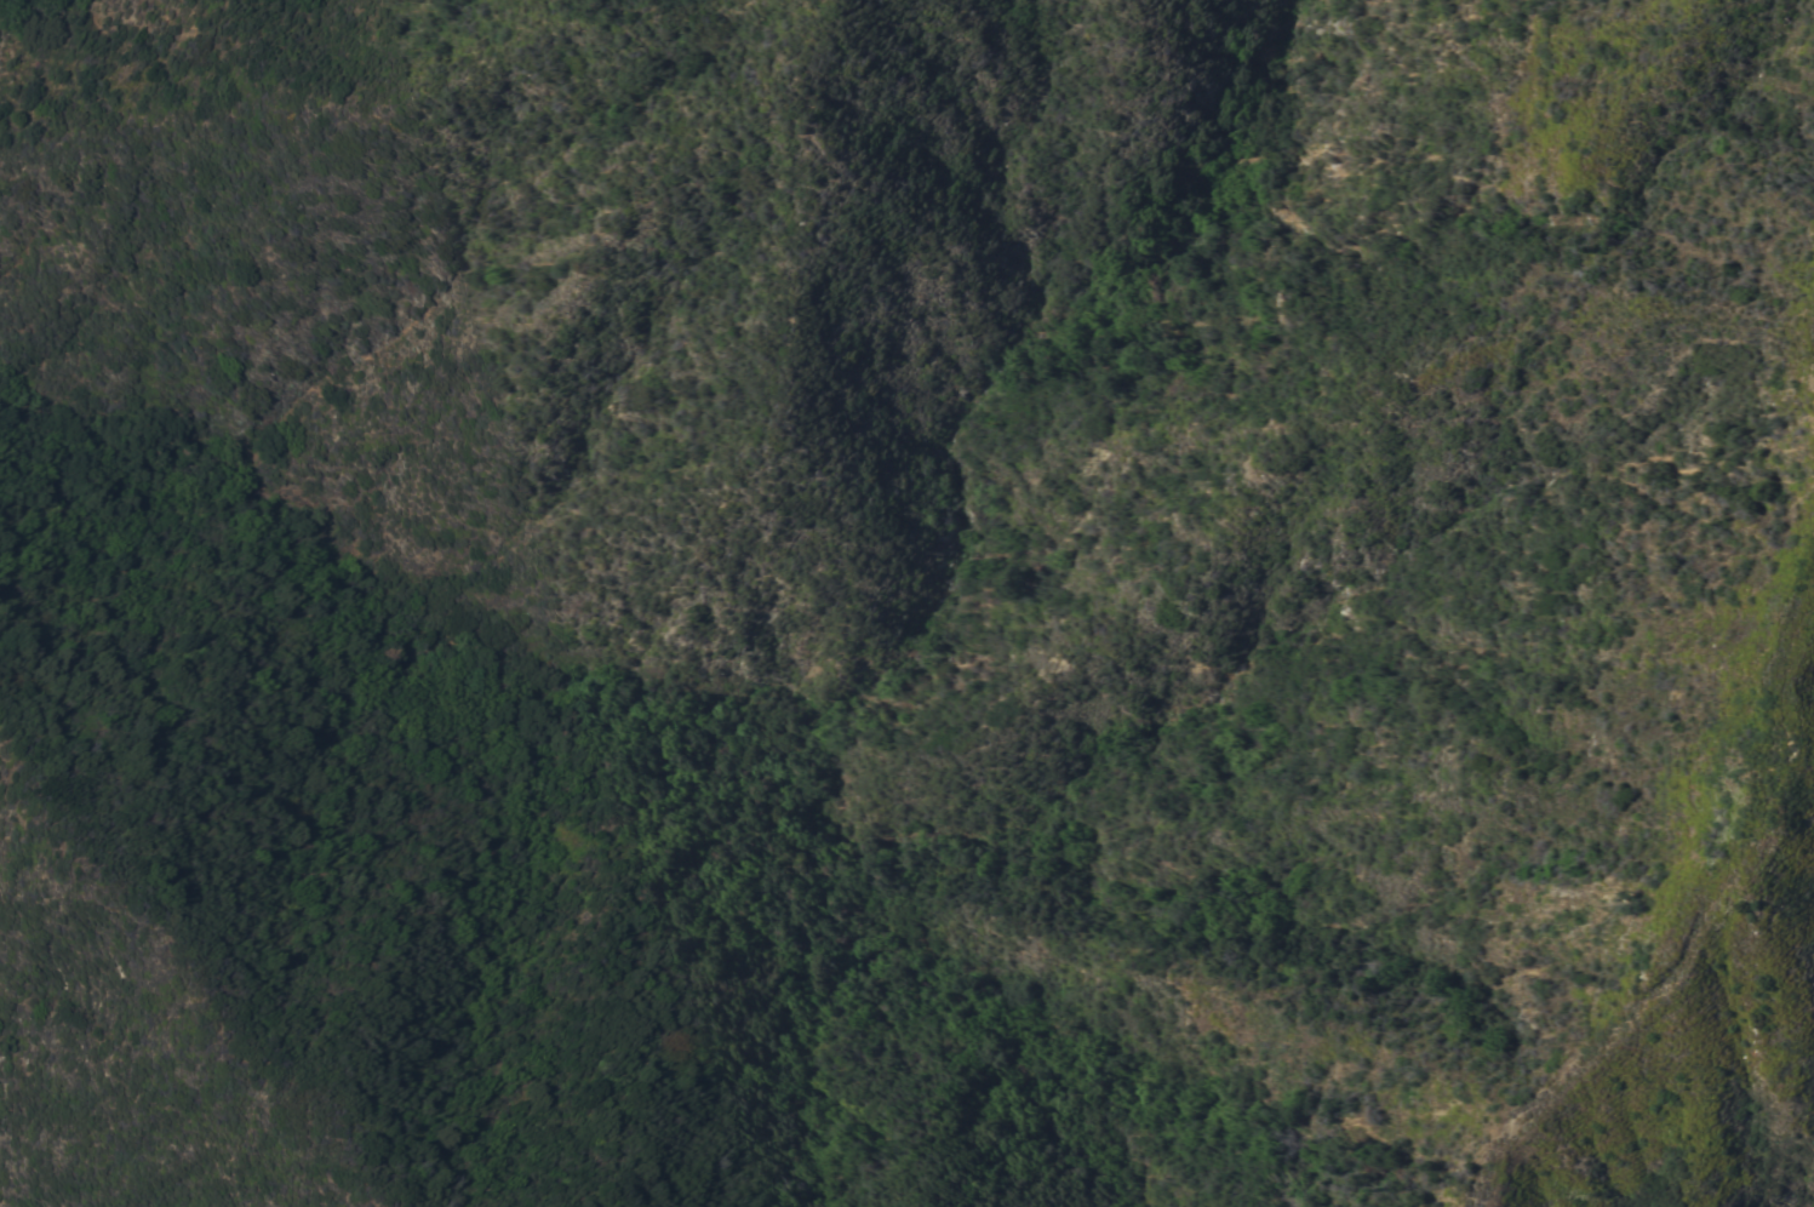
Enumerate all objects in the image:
road: (1681, 939)

